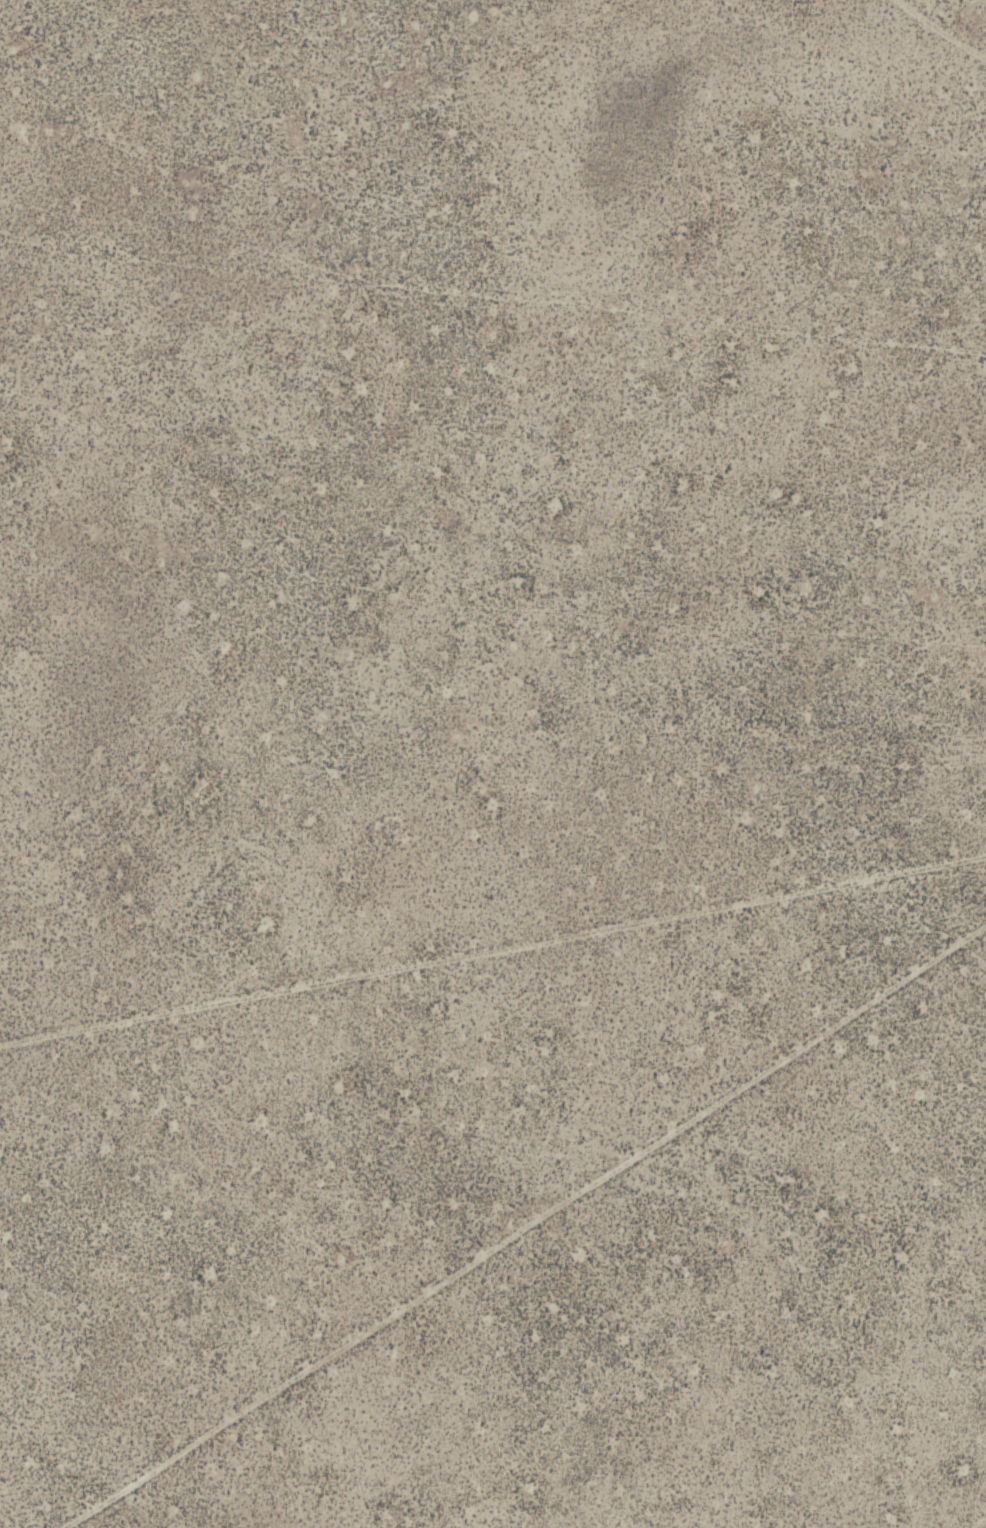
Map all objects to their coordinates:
road: (493, 989)
road: (547, 1246)

